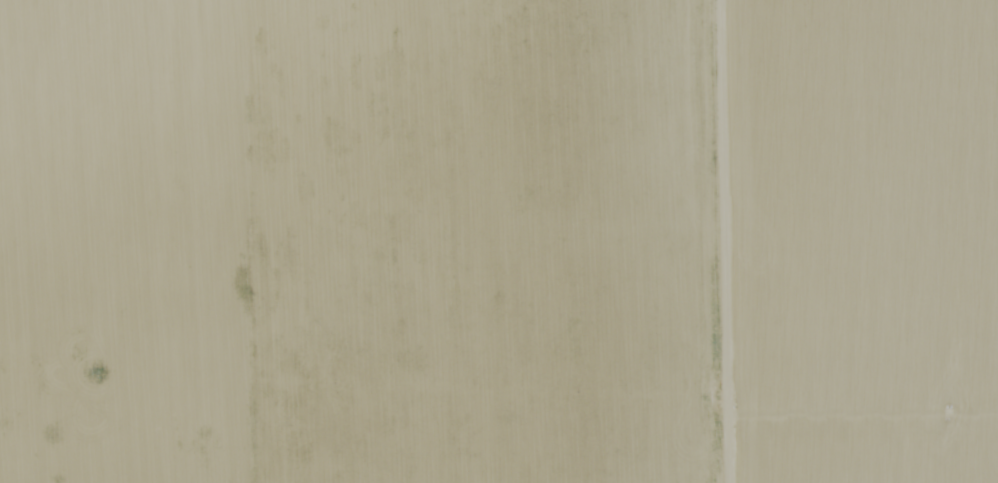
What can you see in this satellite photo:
crop: (814, 240)
road: (718, 241)
crop: (315, 242)

